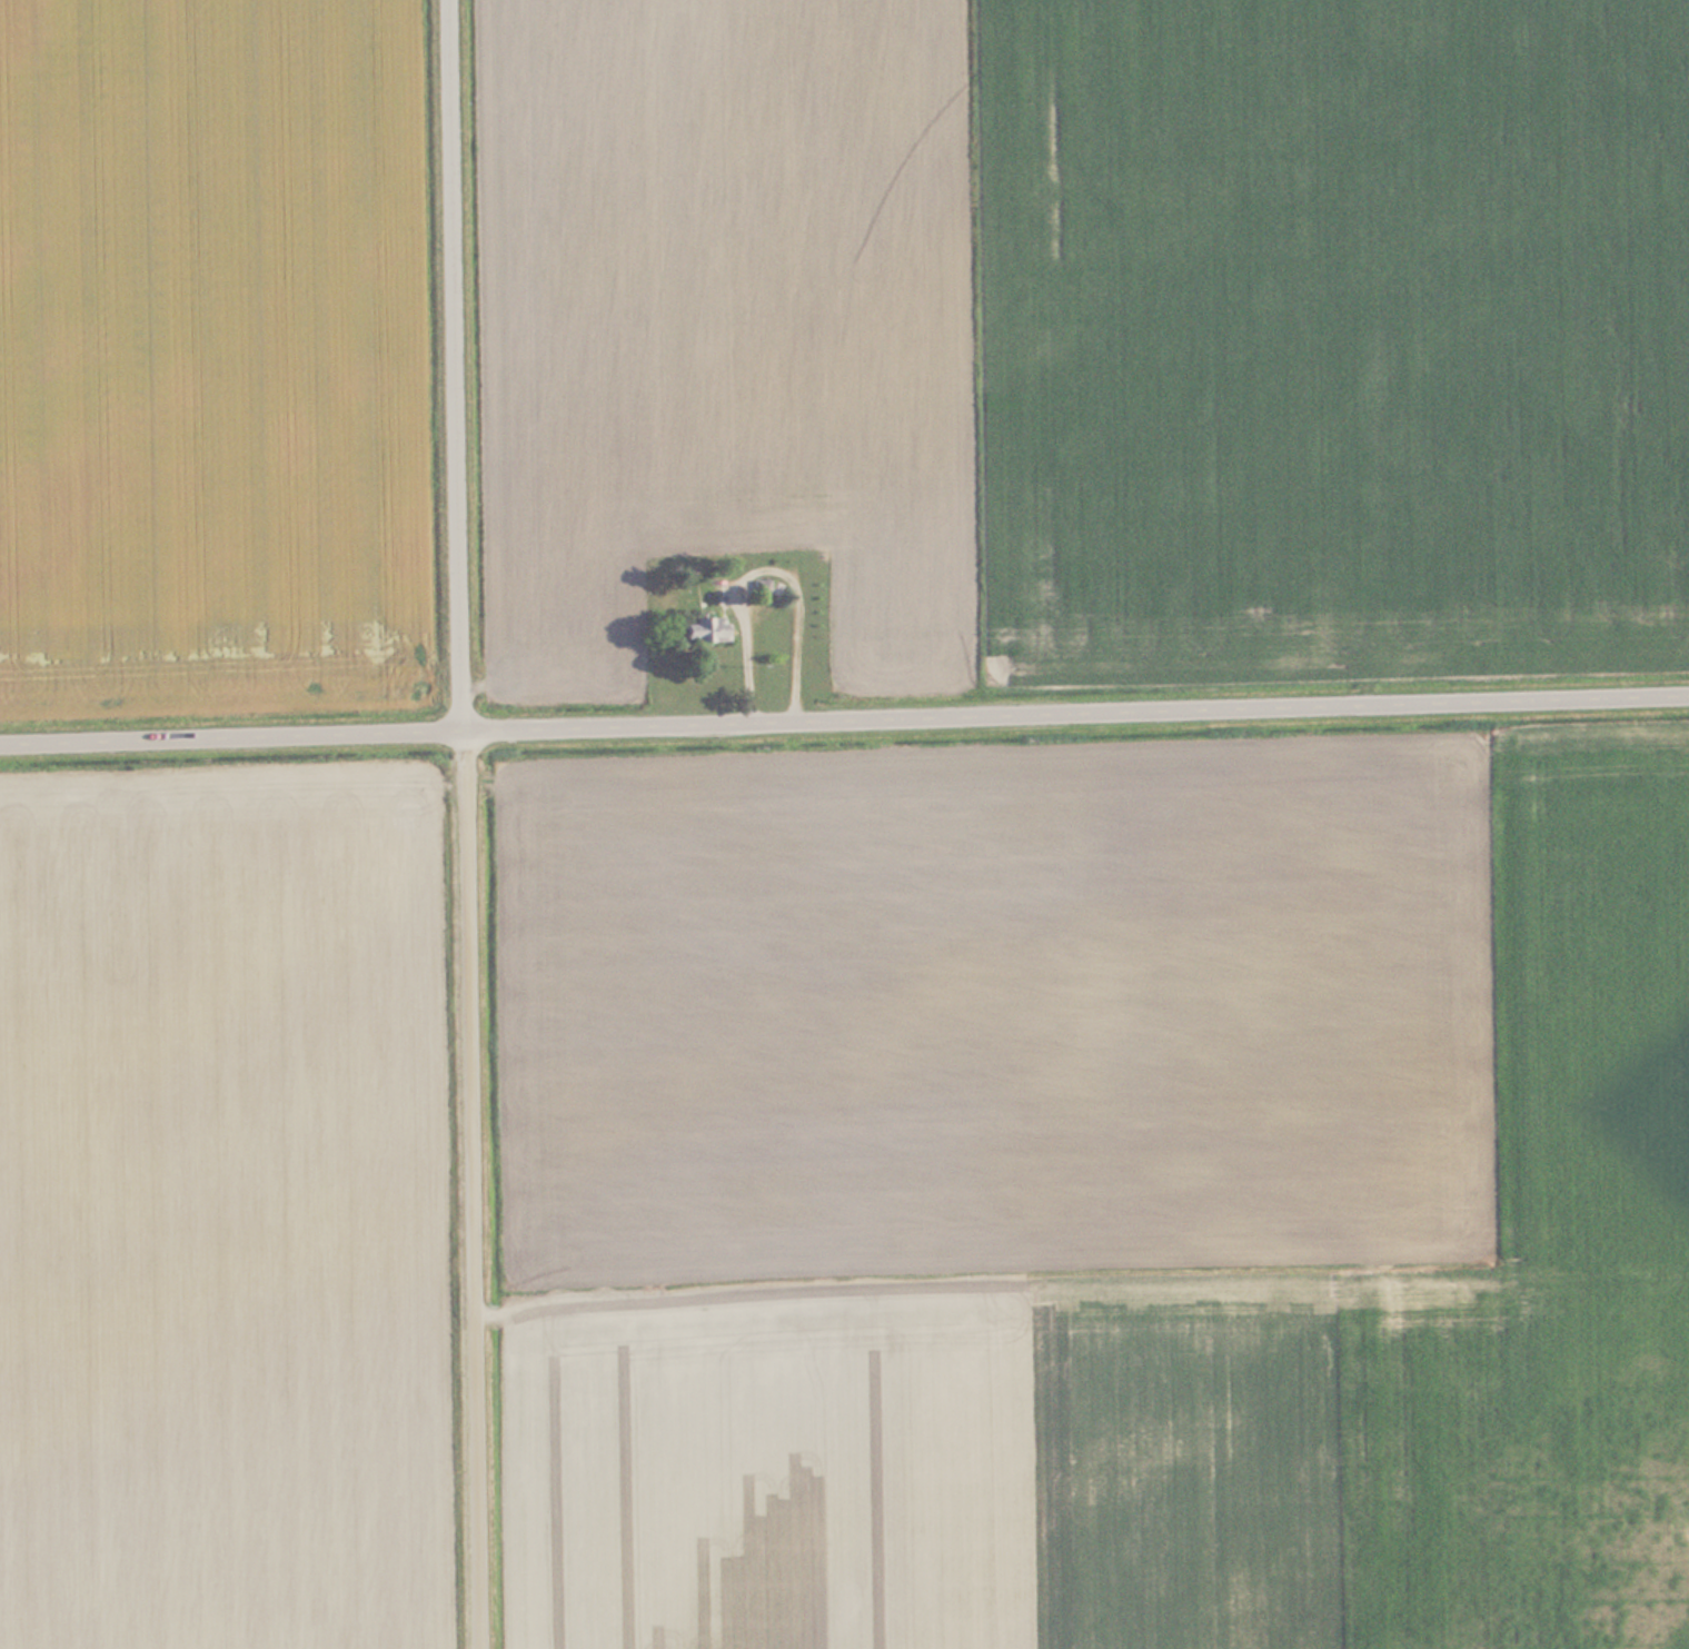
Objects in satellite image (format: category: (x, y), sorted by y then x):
building: (759, 586)
building: (703, 628)
road: (844, 721)
road: (473, 824)

